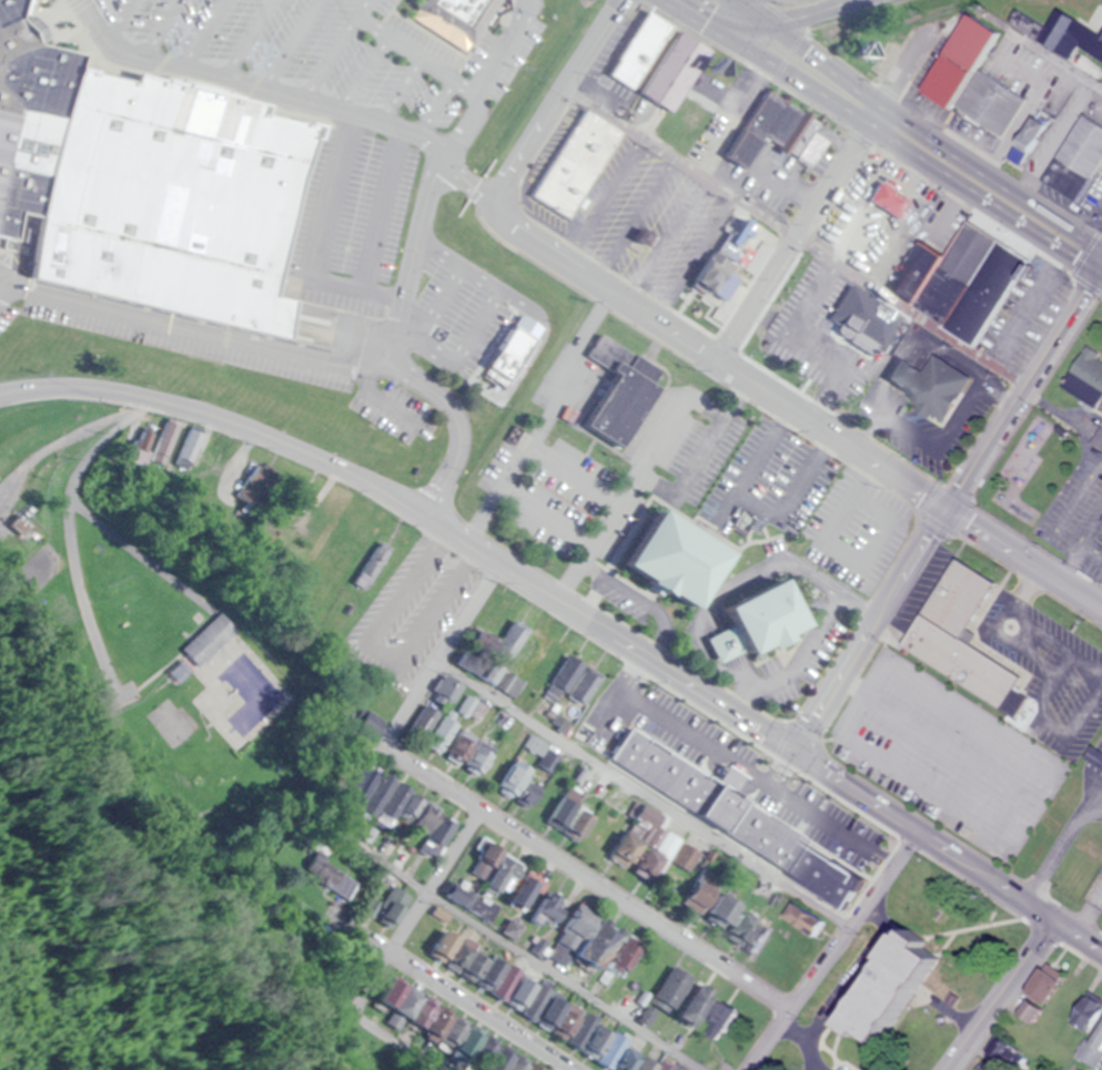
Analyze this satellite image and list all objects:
road: (90, 3)
road: (690, 9)
road: (748, 11)
building: (457, 18)
traffic signals: (706, 19)
road: (127, 20)
road: (781, 21)
traffic signals: (766, 23)
road: (163, 28)
road: (210, 34)
building: (1069, 38)
road: (252, 40)
road: (296, 45)
road: (423, 49)
road: (340, 50)
building: (954, 61)
building: (624, 68)
road: (373, 71)
building: (666, 71)
road: (832, 73)
road: (485, 79)
road: (798, 79)
road: (406, 86)
road: (292, 96)
road: (557, 96)
road: (438, 102)
building: (990, 105)
building: (32, 114)
building: (734, 150)
building: (802, 150)
building: (1075, 159)
railway: (161, 160)
building: (574, 162)
road: (821, 191)
parking lot: (371, 194)
road: (999, 195)
building: (181, 200)
building: (883, 201)
road: (795, 238)
road: (413, 261)
road: (346, 279)
building: (958, 282)
road: (501, 285)
road: (387, 289)
road: (9, 292)
road: (474, 312)
road: (286, 348)
road: (472, 357)
building: (1084, 378)
building: (924, 386)
road: (385, 394)
road: (793, 408)
road: (544, 418)
building: (1098, 437)
road: (707, 444)
railway: (546, 454)
road: (572, 475)
road: (630, 479)
road: (947, 510)
traffic signals: (948, 510)
railway: (580, 511)
road: (545, 516)
building: (1101, 520)
building: (665, 557)
road: (574, 610)
building: (749, 619)
building: (957, 634)
building: (515, 644)
road: (438, 655)
building: (436, 735)
traffic signals: (791, 750)
building: (1100, 751)
building: (465, 754)
road: (366, 779)
building: (508, 779)
parking lot: (850, 787)
building: (553, 807)
building: (796, 832)
building: (635, 844)
road: (1062, 846)
building: (680, 857)
building: (495, 872)
road: (588, 882)
building: (710, 907)
building: (575, 946)
road: (390, 950)
road: (838, 955)
building: (610, 962)
building: (1040, 982)
road: (452, 995)
road: (998, 996)
building: (690, 1002)
building: (1085, 1005)
building: (1024, 1010)
building: (1096, 1037)
building: (606, 1048)
building: (1101, 1063)

